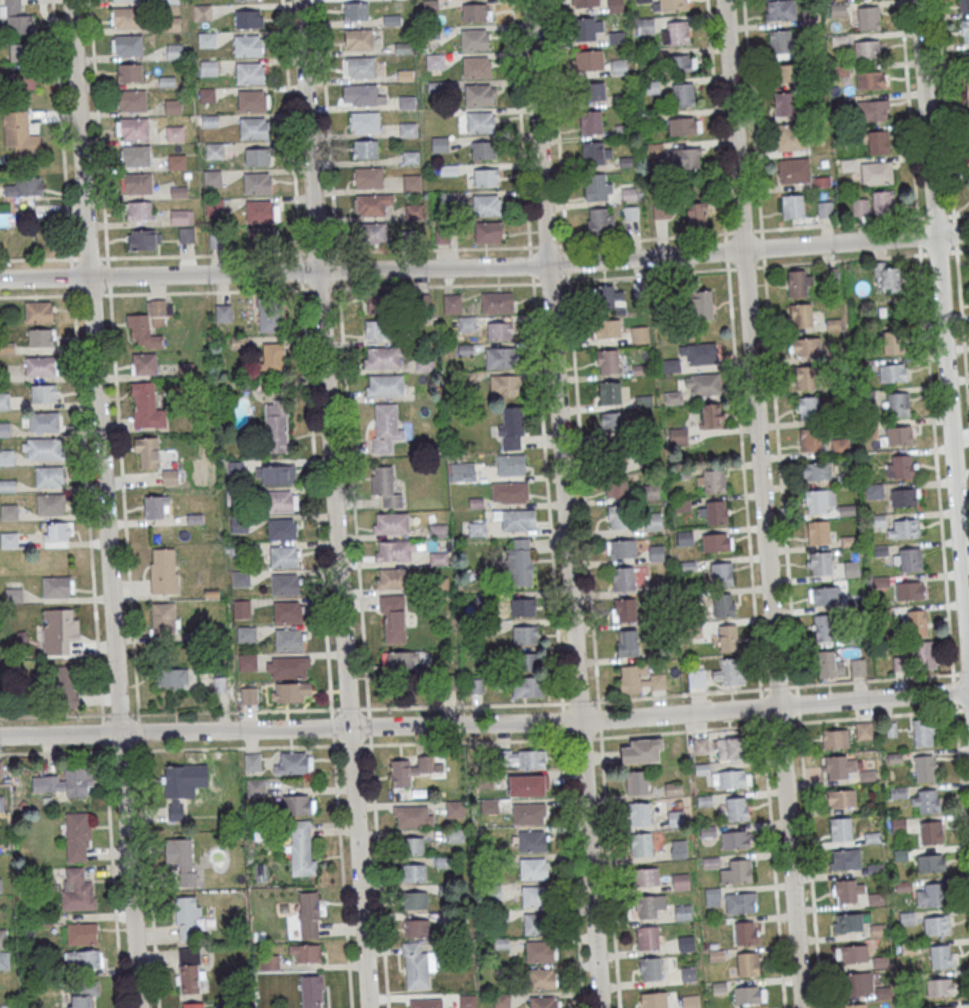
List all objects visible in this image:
building: (123, 0)
building: (643, 0)
building: (170, 1)
building: (585, 4)
building: (674, 5)
building: (615, 6)
building: (963, 7)
building: (355, 10)
building: (780, 10)
building: (202, 12)
building: (476, 12)
building: (126, 17)
building: (16, 18)
building: (248, 18)
building: (869, 18)
building: (645, 25)
building: (586, 29)
building: (675, 32)
building: (965, 32)
building: (359, 38)
building: (616, 38)
building: (206, 39)
building: (475, 39)
building: (780, 41)
building: (127, 45)
building: (247, 45)
building: (868, 49)
building: (21, 52)
building: (587, 61)
building: (965, 61)
building: (679, 63)
building: (477, 66)
building: (208, 67)
building: (359, 67)
building: (619, 67)
building: (129, 72)
building: (249, 73)
building: (786, 73)
building: (870, 79)
building: (23, 80)
building: (594, 91)
building: (207, 94)
building: (362, 94)
building: (479, 94)
building: (683, 94)
building: (967, 95)
building: (132, 100)
building: (251, 101)
building: (406, 101)
building: (784, 104)
building: (172, 106)
building: (873, 110)
road: (945, 110)
road: (908, 112)
building: (968, 114)
road: (752, 119)
road: (715, 120)
building: (364, 121)
building: (480, 121)
building: (591, 121)
road: (556, 125)
building: (684, 125)
road: (520, 127)
building: (132, 128)
building: (253, 128)
building: (408, 129)
road: (290, 130)
road: (327, 130)
road: (98, 132)
building: (20, 133)
road: (61, 133)
building: (174, 133)
building: (791, 137)
building: (878, 142)
building: (440, 144)
building: (365, 148)
building: (214, 150)
building: (482, 150)
building: (595, 151)
building: (135, 155)
building: (257, 156)
building: (685, 158)
building: (176, 162)
building: (793, 171)
building: (876, 173)
building: (367, 177)
building: (486, 177)
building: (212, 178)
building: (411, 182)
building: (257, 183)
building: (136, 184)
building: (27, 185)
building: (595, 187)
building: (178, 191)
building: (882, 201)
building: (371, 204)
building: (485, 204)
building: (792, 206)
building: (859, 206)
building: (825, 209)
building: (138, 210)
building: (259, 211)
building: (414, 211)
building: (696, 214)
road: (957, 214)
road: (935, 216)
building: (599, 221)
road: (837, 223)
road: (742, 230)
building: (371, 232)
building: (488, 232)
road: (953, 232)
road: (918, 235)
building: (261, 236)
road: (644, 237)
building: (143, 239)
road: (546, 245)
road: (762, 248)
road: (431, 249)
road: (958, 249)
road: (725, 250)
road: (303, 252)
road: (317, 252)
road: (938, 252)
road: (199, 254)
road: (38, 258)
road: (89, 258)
road: (840, 259)
road: (565, 261)
road: (530, 263)
road: (485, 267)
road: (745, 267)
road: (337, 269)
road: (300, 270)
road: (646, 274)
road: (107, 275)
road: (72, 276)
building: (829, 278)
building: (886, 279)
road: (548, 281)
road: (434, 285)
building: (797, 285)
road: (320, 288)
road: (205, 290)
road: (91, 294)
road: (40, 295)
building: (609, 298)
building: (497, 302)
building: (452, 303)
building: (699, 303)
building: (377, 304)
building: (38, 311)
building: (223, 313)
building: (801, 318)
building: (269, 319)
building: (148, 323)
building: (467, 324)
building: (832, 326)
building: (377, 329)
building: (607, 329)
building: (500, 331)
road: (962, 332)
building: (639, 335)
building: (40, 337)
building: (858, 337)
road: (944, 340)
building: (892, 344)
building: (805, 349)
building: (697, 354)
building: (273, 355)
building: (835, 355)
building: (499, 357)
building: (383, 358)
building: (608, 362)
building: (144, 363)
building: (40, 366)
building: (865, 367)
building: (891, 375)
building: (805, 380)
building: (504, 385)
building: (702, 385)
building: (384, 386)
building: (835, 388)
building: (609, 392)
building: (43, 393)
building: (865, 398)
building: (4, 400)
building: (146, 406)
building: (897, 407)
building: (810, 411)
building: (711, 416)
building: (44, 422)
building: (612, 422)
building: (275, 426)
building: (385, 427)
building: (511, 427)
building: (4, 429)
building: (868, 432)
building: (677, 436)
building: (898, 438)
building: (809, 442)
building: (42, 448)
building: (839, 448)
building: (147, 452)
building: (6, 457)
road: (935, 463)
building: (511, 464)
building: (899, 469)
building: (463, 471)
building: (816, 474)
building: (278, 475)
road: (780, 475)
building: (49, 476)
building: (616, 477)
road: (743, 478)
building: (713, 480)
building: (843, 482)
building: (7, 485)
building: (385, 486)
road: (582, 489)
road: (546, 491)
building: (510, 492)
building: (650, 492)
building: (873, 494)
road: (353, 497)
road: (316, 498)
building: (903, 500)
building: (279, 502)
road: (87, 503)
road: (105, 503)
road: (124, 503)
road: (334, 503)
building: (818, 503)
building: (49, 504)
road: (564, 504)
road: (763, 504)
building: (155, 507)
building: (8, 512)
building: (713, 512)
building: (846, 512)
building: (619, 518)
building: (516, 520)
building: (875, 522)
building: (653, 523)
building: (391, 525)
building: (281, 529)
building: (58, 531)
building: (903, 531)
building: (817, 535)
building: (683, 538)
building: (9, 539)
building: (716, 542)
building: (848, 543)
building: (621, 550)
building: (395, 552)
building: (879, 553)
building: (656, 554)
building: (284, 556)
building: (521, 562)
building: (909, 562)
building: (819, 566)
building: (163, 571)
building: (851, 571)
building: (721, 574)
building: (240, 578)
building: (391, 579)
building: (622, 580)
building: (285, 584)
building: (880, 584)
building: (57, 586)
building: (908, 593)
building: (13, 595)
building: (825, 598)
building: (723, 605)
building: (854, 605)
building: (522, 607)
building: (243, 609)
building: (624, 610)
building: (287, 611)
building: (881, 616)
building: (393, 617)
building: (163, 619)
building: (916, 626)
building: (822, 630)
building: (57, 631)
building: (246, 634)
building: (524, 634)
building: (726, 638)
building: (288, 639)
building: (852, 639)
building: (628, 643)
building: (403, 660)
building: (527, 661)
building: (916, 661)
building: (247, 662)
building: (287, 667)
building: (828, 667)
building: (857, 670)
road: (963, 671)
building: (729, 672)
building: (171, 678)
building: (696, 678)
road: (873, 678)
building: (640, 679)
building: (66, 685)
road: (778, 686)
building: (526, 687)
road: (953, 690)
building: (291, 692)
road: (678, 693)
building: (248, 695)
road: (579, 700)
road: (797, 702)
road: (463, 704)
road: (761, 706)
road: (348, 707)
road: (965, 708)
road: (234, 710)
road: (120, 713)
road: (55, 714)
road: (876, 714)
road: (598, 718)
road: (562, 719)
road: (780, 722)
road: (485, 723)
road: (368, 725)
road: (332, 727)
road: (681, 729)
road: (139, 730)
building: (864, 730)
road: (103, 731)
building: (924, 732)
road: (581, 736)
building: (834, 739)
road: (466, 741)
road: (350, 744)
building: (701, 745)
road: (170, 748)
building: (730, 748)
building: (642, 750)
building: (521, 758)
building: (252, 762)
building: (292, 764)
building: (839, 767)
building: (0, 768)
building: (924, 768)
building: (408, 769)
building: (731, 779)
building: (67, 782)
building: (636, 782)
building: (528, 785)
building: (255, 787)
building: (672, 788)
building: (174, 793)
road: (961, 794)
building: (841, 799)
building: (925, 801)
building: (1, 802)
building: (298, 804)
building: (490, 806)
building: (454, 808)
building: (737, 808)
building: (528, 813)
building: (638, 814)
building: (413, 816)
building: (675, 818)
building: (898, 825)
building: (840, 830)
building: (930, 833)
building: (455, 835)
building: (78, 836)
building: (735, 839)
building: (532, 840)
building: (413, 845)
building: (641, 845)
building: (679, 848)
building: (301, 849)
building: (183, 859)
building: (844, 859)
road: (809, 860)
road: (773, 861)
building: (930, 863)
building: (533, 868)
road: (572, 868)
road: (609, 868)
road: (378, 871)
building: (737, 871)
road: (341, 872)
building: (413, 872)
road: (112, 874)
road: (149, 874)
building: (646, 877)
building: (680, 881)
building: (0, 885)
building: (77, 889)
building: (848, 890)
building: (491, 893)
building: (930, 894)
building: (534, 895)
building: (711, 897)
building: (414, 900)
building: (741, 902)
building: (651, 906)
building: (682, 912)
building: (309, 914)
building: (187, 918)
building: (849, 922)
building: (536, 923)
building: (937, 925)
building: (417, 928)
building: (82, 933)
building: (745, 933)
building: (648, 937)
building: (686, 944)
building: (4, 950)
building: (540, 951)
building: (305, 952)
building: (851, 953)
building: (940, 956)
building: (85, 958)
building: (748, 963)
building: (417, 965)
building: (270, 967)
building: (650, 968)
building: (190, 971)
building: (688, 973)
building: (542, 978)
building: (857, 984)
building: (940, 987)
building: (312, 991)
building: (82, 993)
building: (749, 994)
building: (501, 1000)
building: (654, 1000)
building: (467, 1001)
building: (691, 1001)
building: (543, 1002)
building: (426, 1003)
building: (192, 1005)
building: (854, 1006)
building: (945, 1007)

